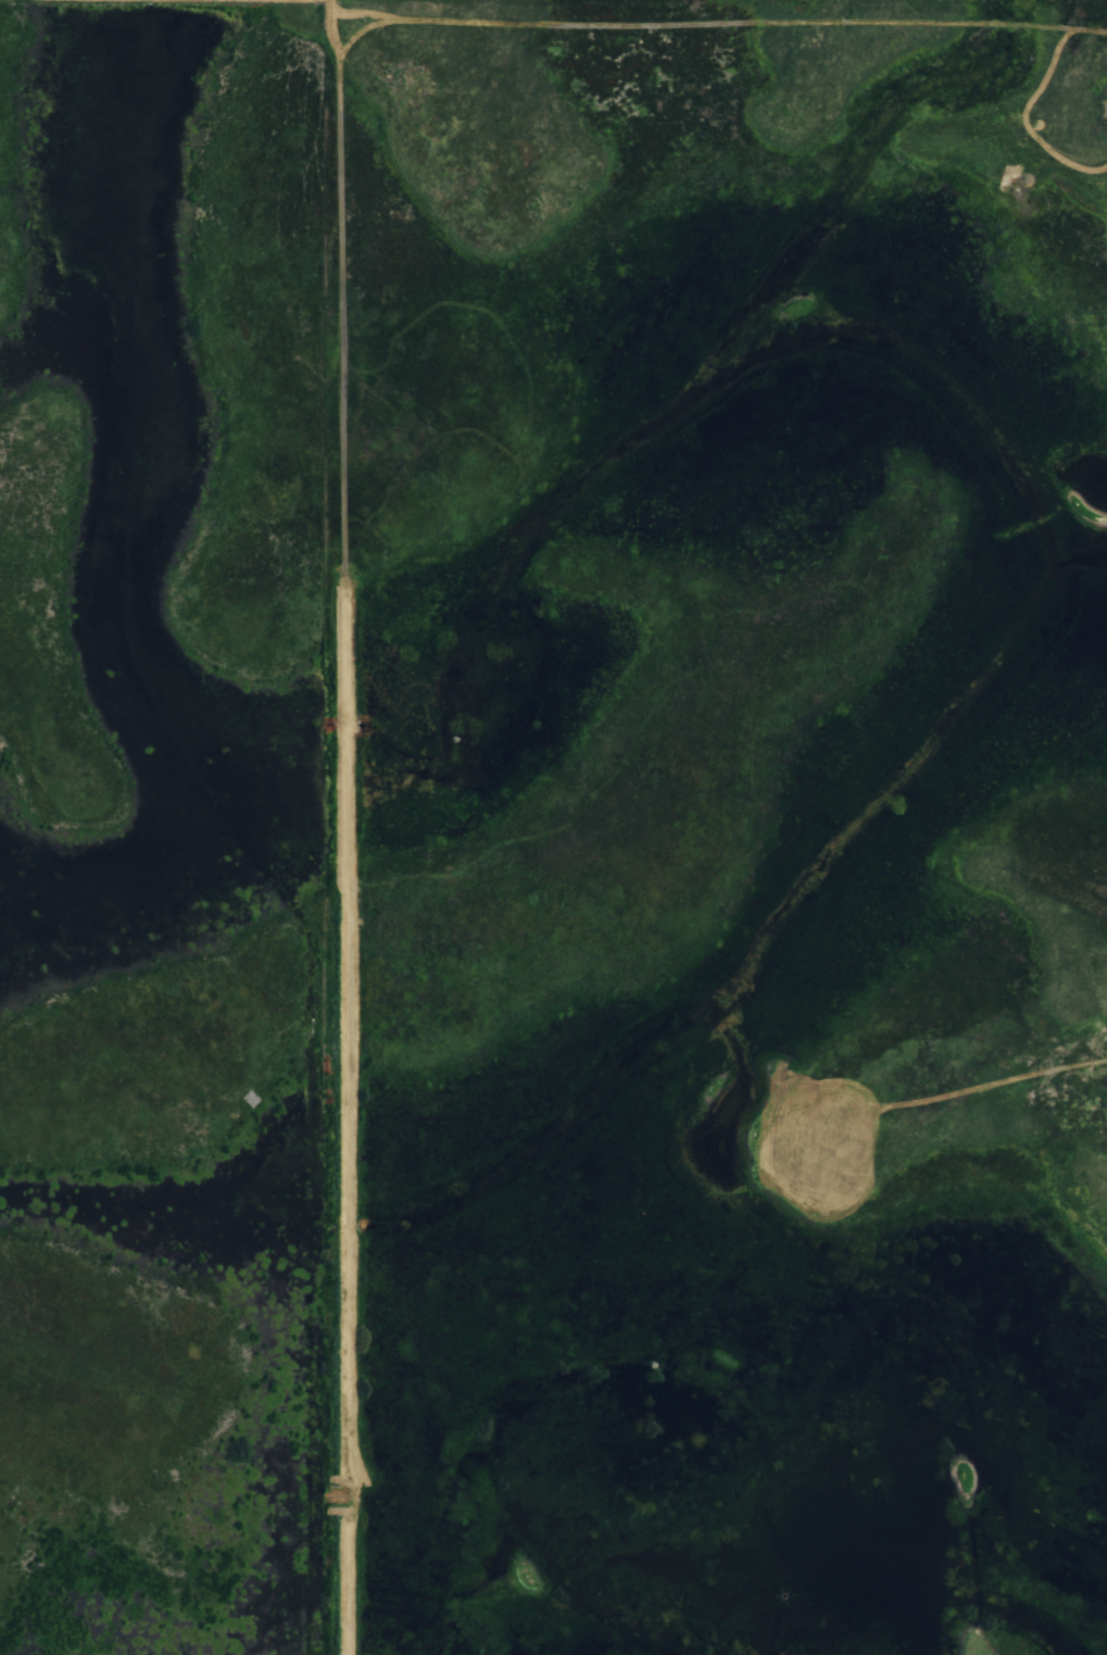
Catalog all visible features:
crop: (499, 742)

